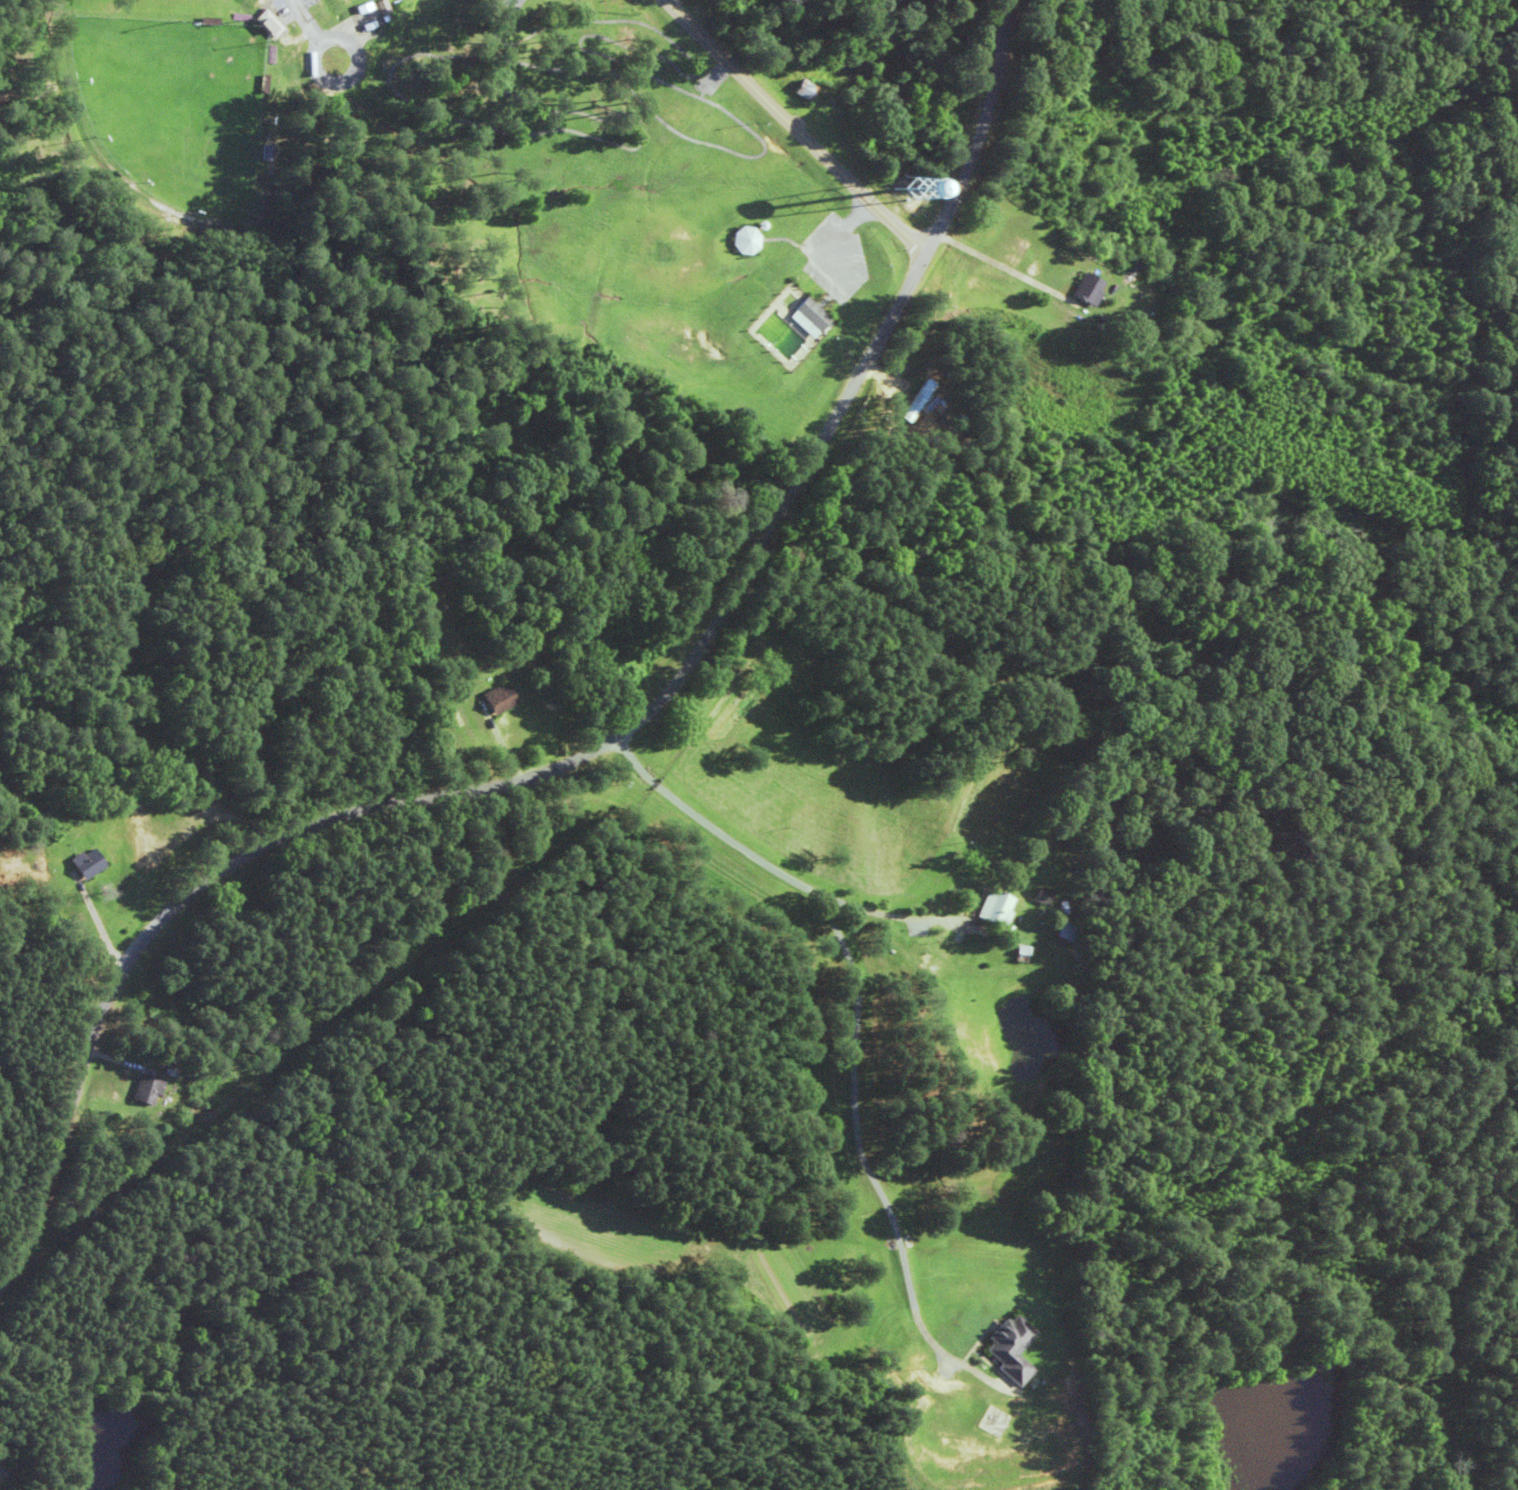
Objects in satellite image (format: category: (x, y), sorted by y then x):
building: (269, 24)
building: (806, 89)
road: (810, 114)
building: (751, 239)
building: (1082, 289)
building: (813, 316)
building: (921, 397)
building: (492, 699)
road: (582, 748)
building: (84, 863)
building: (1036, 895)
building: (989, 907)
building: (1058, 930)
building: (146, 1089)
building: (1009, 1348)

